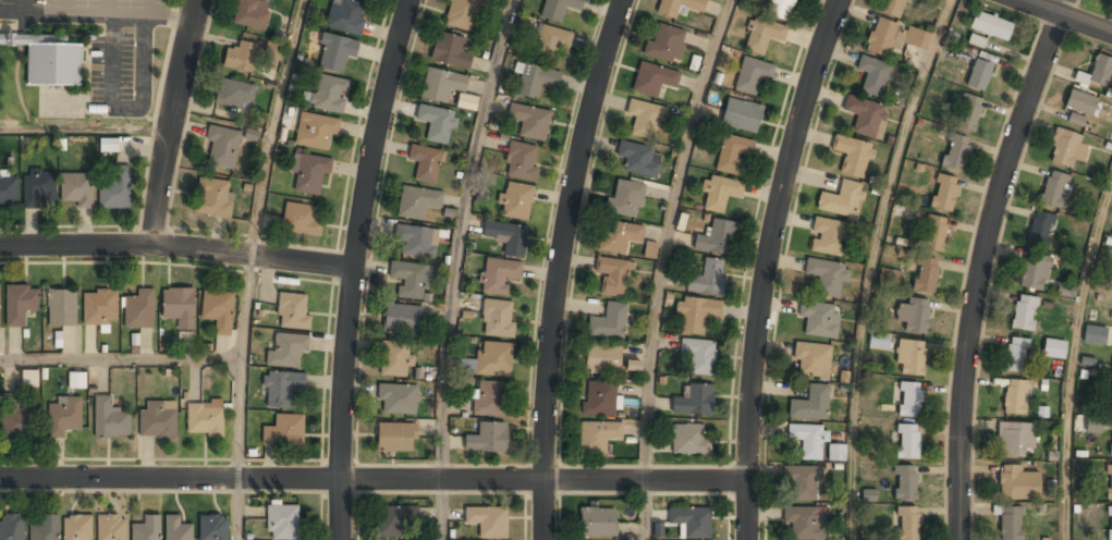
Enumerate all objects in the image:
building: (1111, 5)
building: (679, 7)
building: (891, 8)
building: (558, 9)
building: (779, 9)
building: (461, 14)
building: (249, 15)
building: (346, 15)
road: (1064, 17)
building: (990, 26)
building: (762, 35)
building: (893, 37)
building: (552, 42)
building: (664, 45)
building: (450, 51)
building: (335, 52)
building: (272, 54)
building: (241, 57)
building: (48, 60)
building: (1097, 72)
building: (753, 75)
building: (872, 75)
building: (978, 75)
building: (652, 79)
building: (536, 81)
building: (441, 85)
building: (235, 94)
building: (330, 94)
building: (1080, 103)
building: (968, 112)
building: (864, 114)
building: (741, 115)
building: (645, 119)
building: (1076, 119)
road: (172, 122)
building: (529, 122)
building: (436, 123)
road: (272, 125)
road: (85, 130)
building: (316, 131)
building: (108, 145)
building: (222, 147)
building: (1066, 148)
building: (955, 151)
building: (732, 154)
building: (852, 155)
building: (639, 159)
building: (522, 161)
building: (425, 162)
building: (309, 173)
building: (38, 187)
building: (114, 187)
building: (1053, 188)
building: (75, 189)
building: (9, 191)
building: (719, 193)
building: (943, 193)
building: (213, 198)
building: (625, 199)
building: (841, 199)
building: (516, 200)
building: (417, 202)
building: (902, 212)
building: (300, 220)
building: (1040, 229)
building: (933, 233)
road: (664, 235)
road: (457, 236)
building: (506, 236)
building: (618, 236)
building: (827, 236)
building: (717, 238)
building: (416, 241)
road: (178, 247)
building: (650, 249)
road: (762, 263)
road: (983, 263)
road: (870, 265)
road: (559, 266)
road: (354, 267)
building: (1031, 273)
building: (925, 274)
building: (499, 275)
building: (613, 277)
building: (827, 277)
building: (890, 278)
building: (708, 279)
building: (410, 280)
building: (0, 290)
building: (1065, 290)
building: (20, 303)
building: (99, 307)
building: (179, 307)
building: (61, 308)
building: (138, 309)
building: (218, 310)
building: (292, 310)
building: (1024, 312)
building: (696, 315)
building: (913, 315)
building: (497, 318)
building: (402, 319)
building: (819, 319)
building: (609, 322)
building: (1093, 334)
building: (879, 341)
building: (1053, 348)
building: (288, 351)
building: (1016, 355)
building: (699, 356)
building: (909, 357)
road: (1072, 357)
road: (120, 358)
building: (394, 359)
building: (494, 359)
building: (601, 360)
building: (812, 360)
building: (633, 365)
road: (239, 366)
building: (28, 378)
building: (76, 381)
building: (281, 388)
building: (1015, 396)
building: (398, 400)
building: (489, 400)
building: (599, 400)
building: (909, 400)
building: (694, 401)
building: (810, 404)
building: (1111, 407)
building: (63, 417)
building: (204, 418)
building: (13, 419)
building: (109, 419)
building: (157, 419)
building: (1092, 425)
building: (284, 431)
building: (597, 437)
building: (395, 438)
building: (1014, 438)
building: (1111, 438)
building: (487, 439)
building: (689, 440)
building: (808, 440)
building: (907, 442)
building: (835, 453)
road: (374, 479)
building: (1109, 481)
building: (803, 482)
building: (904, 482)
building: (1016, 483)
road: (239, 510)
road: (440, 510)
road: (645, 510)
building: (393, 520)
building: (282, 521)
building: (691, 521)
building: (487, 523)
building: (803, 523)
building: (907, 523)
building: (1109, 523)
building: (597, 524)
building: (1010, 524)
building: (11, 527)
building: (76, 527)
building: (110, 527)
building: (213, 527)
building: (45, 528)
building: (146, 528)
building: (175, 529)

